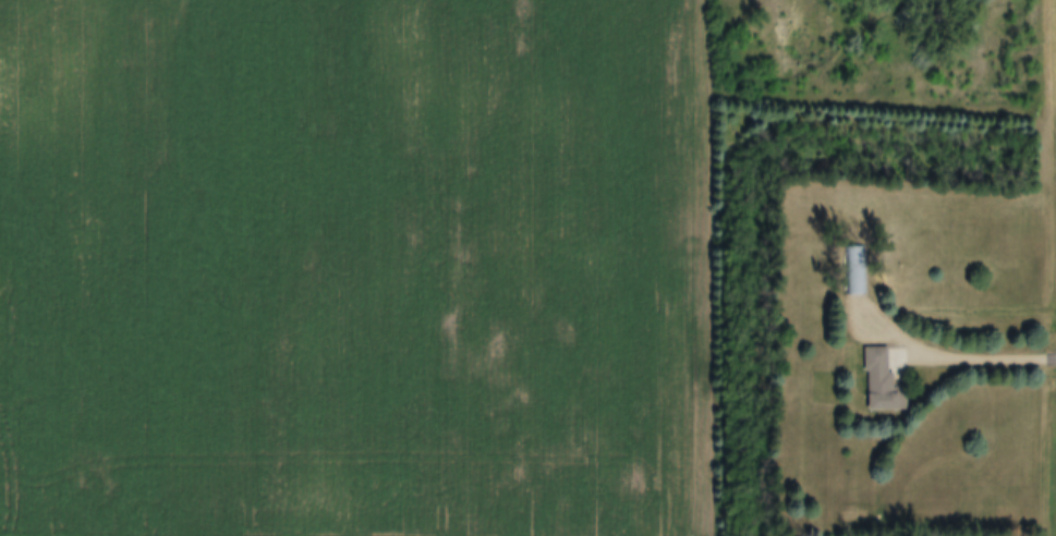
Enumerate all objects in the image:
building: (855, 272)
road: (979, 354)
building: (884, 382)

